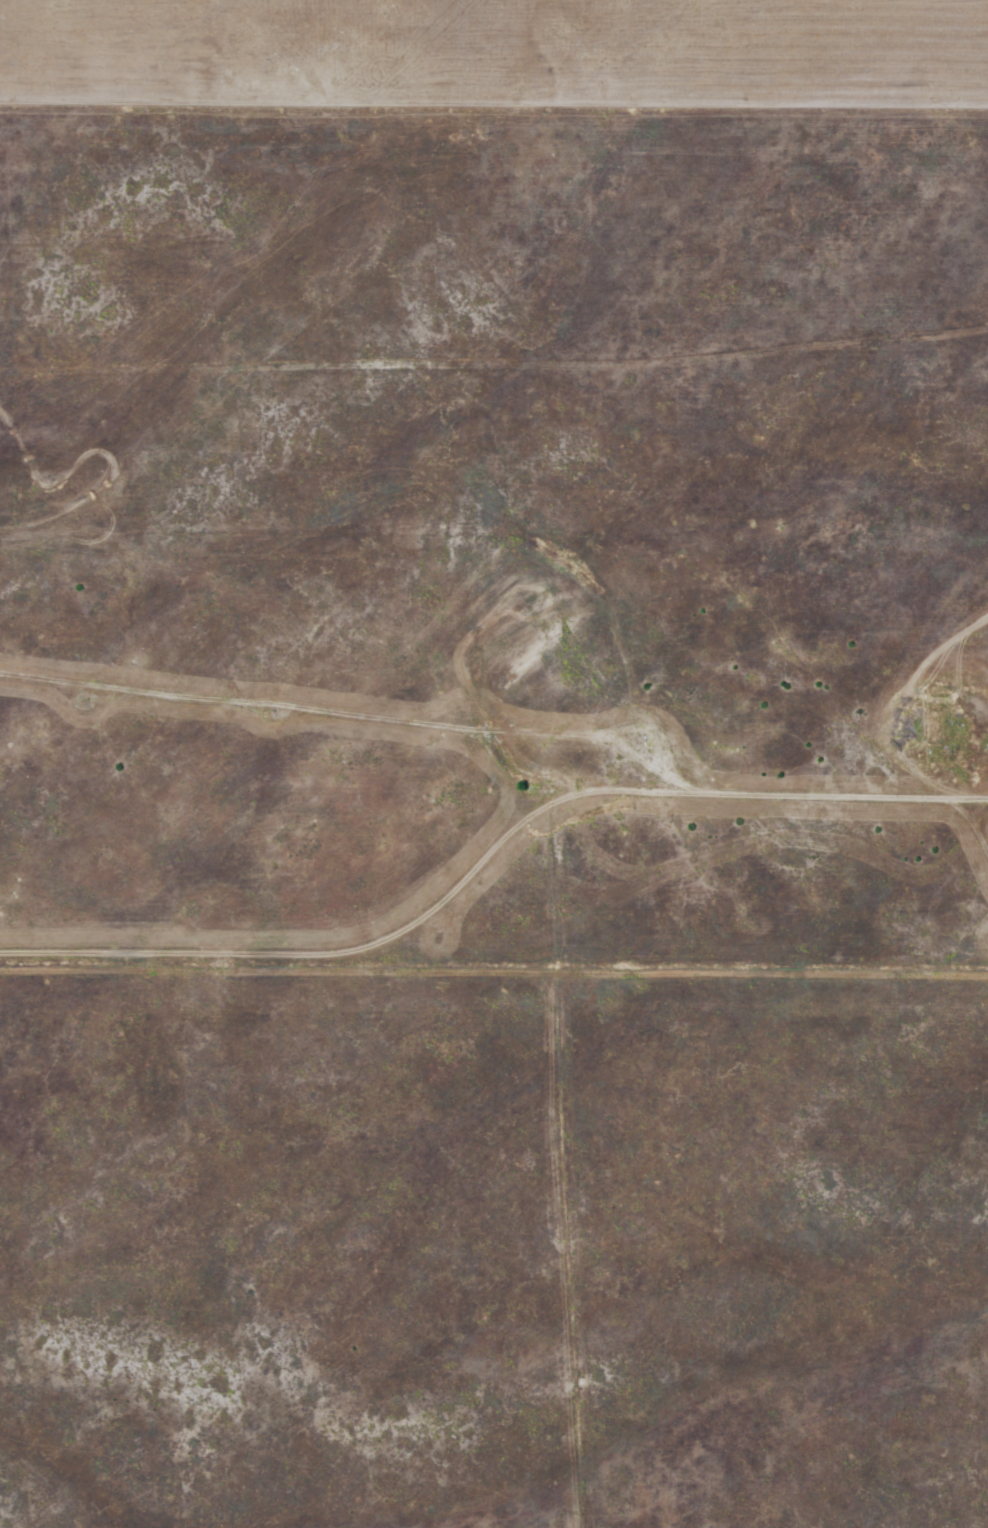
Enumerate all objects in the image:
road: (494, 843)
road: (494, 972)

